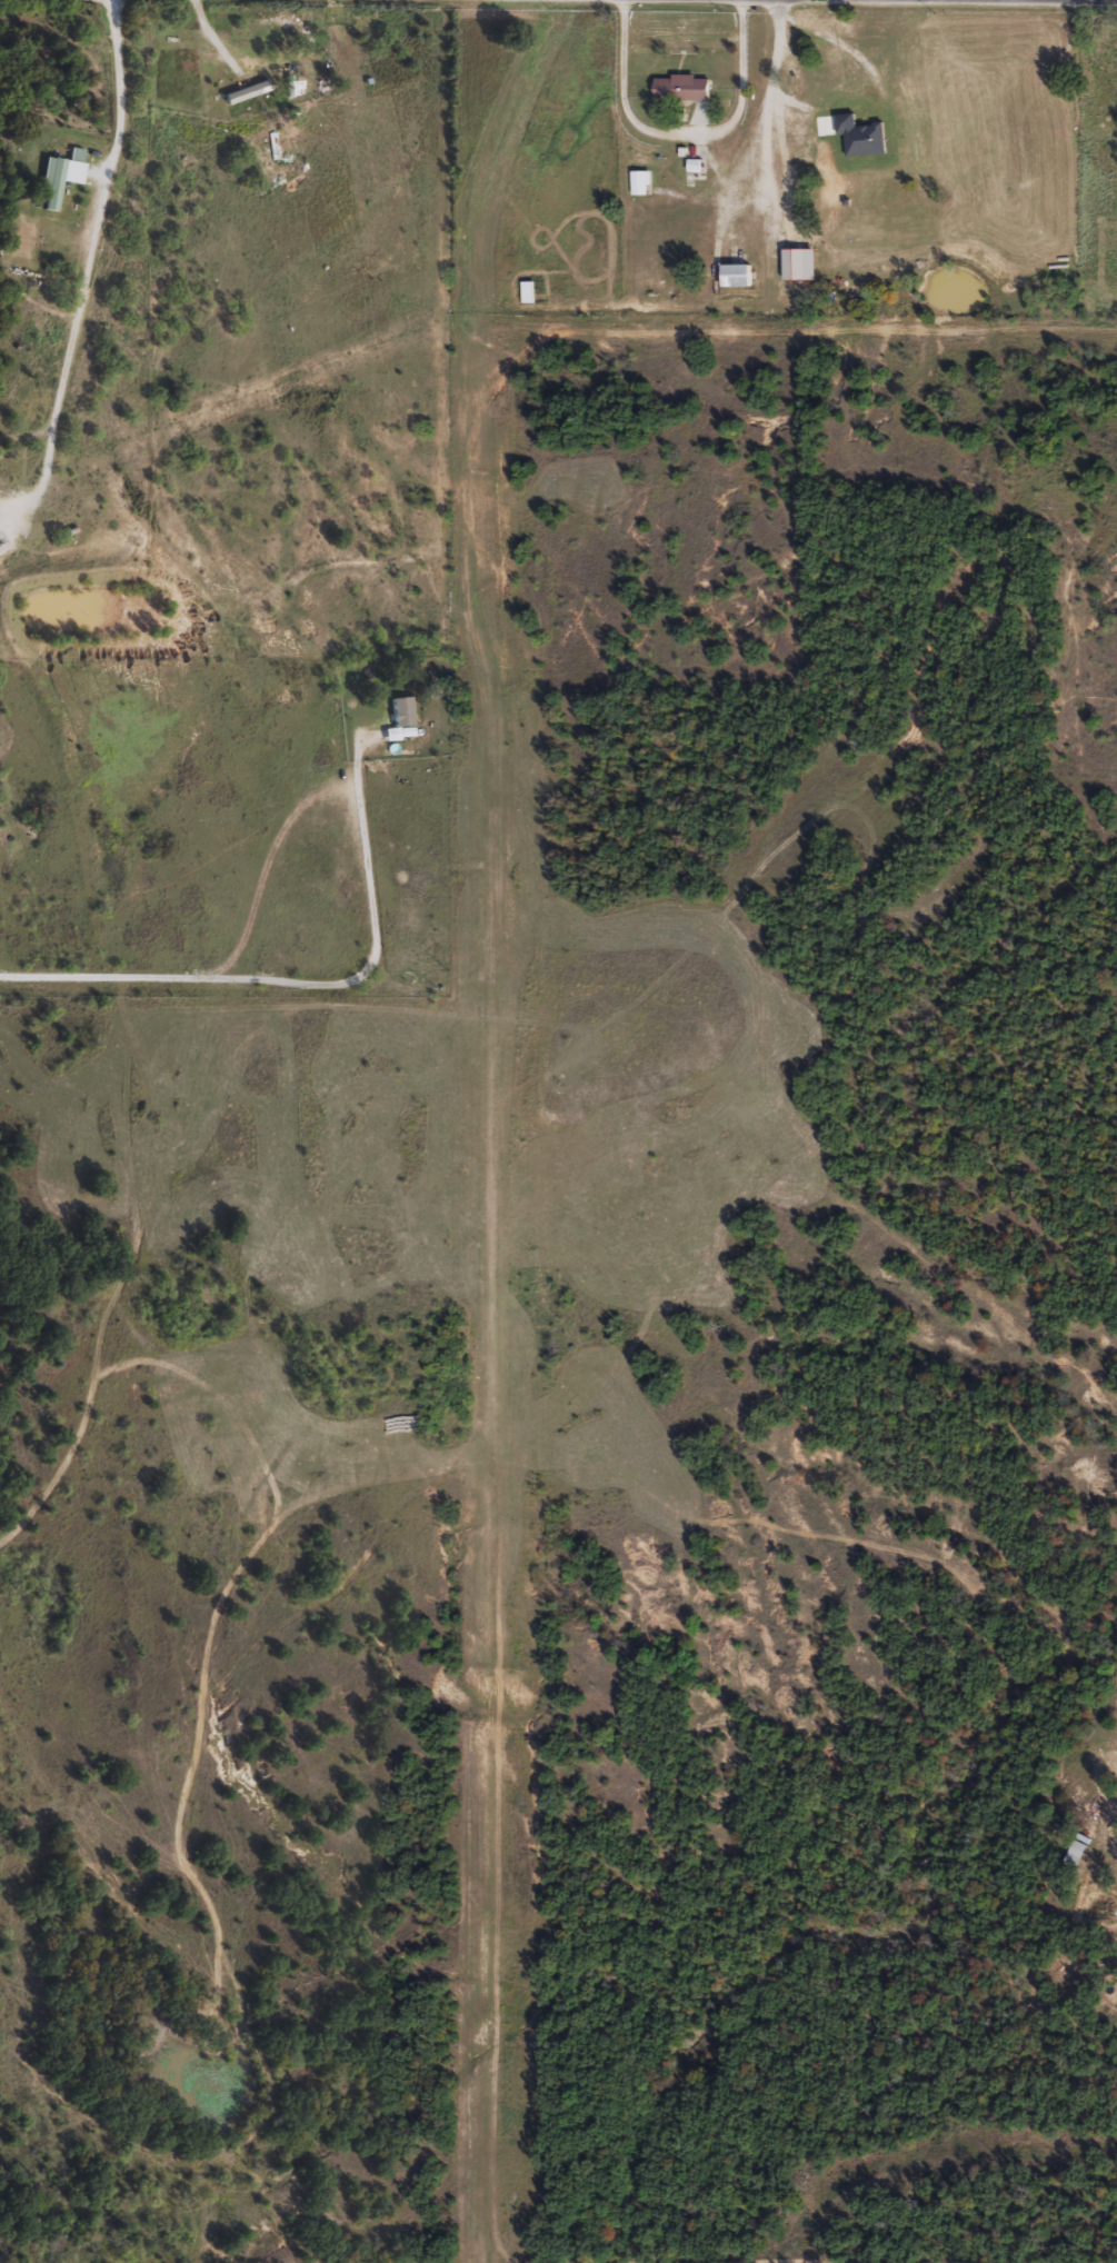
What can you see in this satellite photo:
building: (679, 87)
road: (120, 88)
road: (769, 103)
road: (685, 136)
building: (640, 182)
building: (48, 183)
building: (734, 275)
building: (528, 291)
building: (401, 717)
road: (301, 987)

